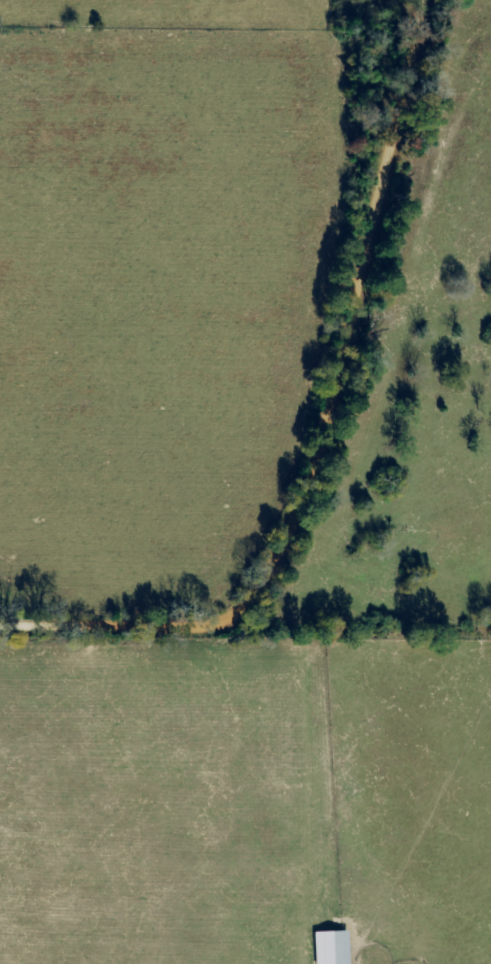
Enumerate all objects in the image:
road: (316, 428)
building: (330, 948)

